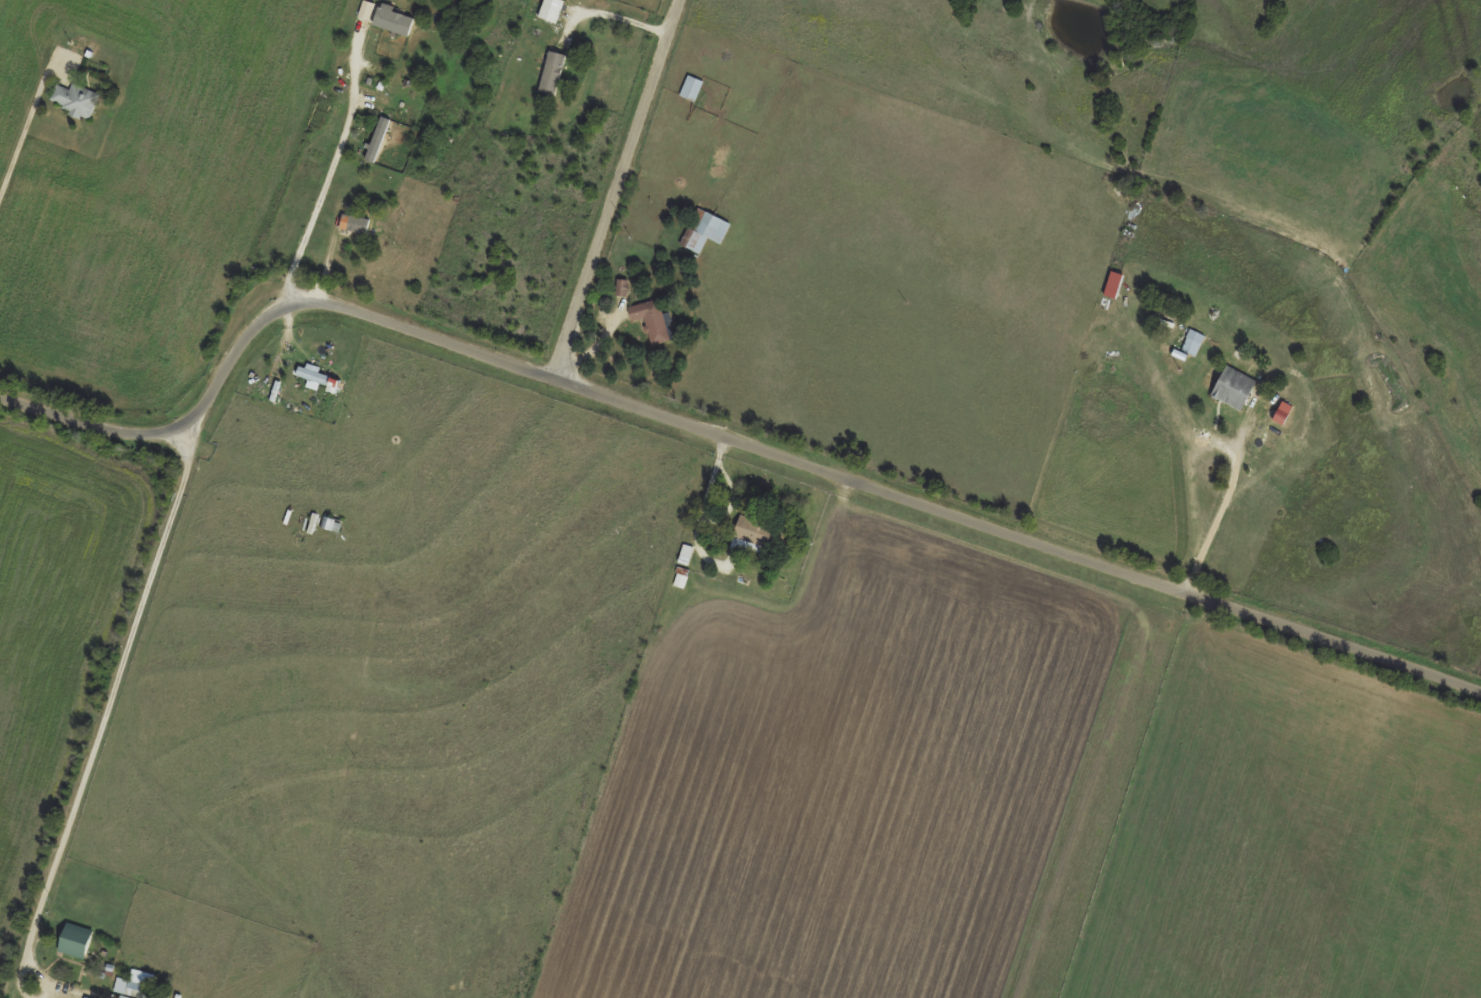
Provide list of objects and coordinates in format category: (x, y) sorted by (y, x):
building: (551, 10)
building: (552, 71)
building: (688, 87)
building: (75, 98)
building: (379, 134)
road: (620, 187)
building: (355, 222)
building: (702, 229)
building: (650, 320)
building: (1191, 343)
building: (314, 375)
building: (1231, 387)
road: (701, 425)
building: (326, 521)
building: (753, 531)
building: (76, 951)
building: (136, 983)

